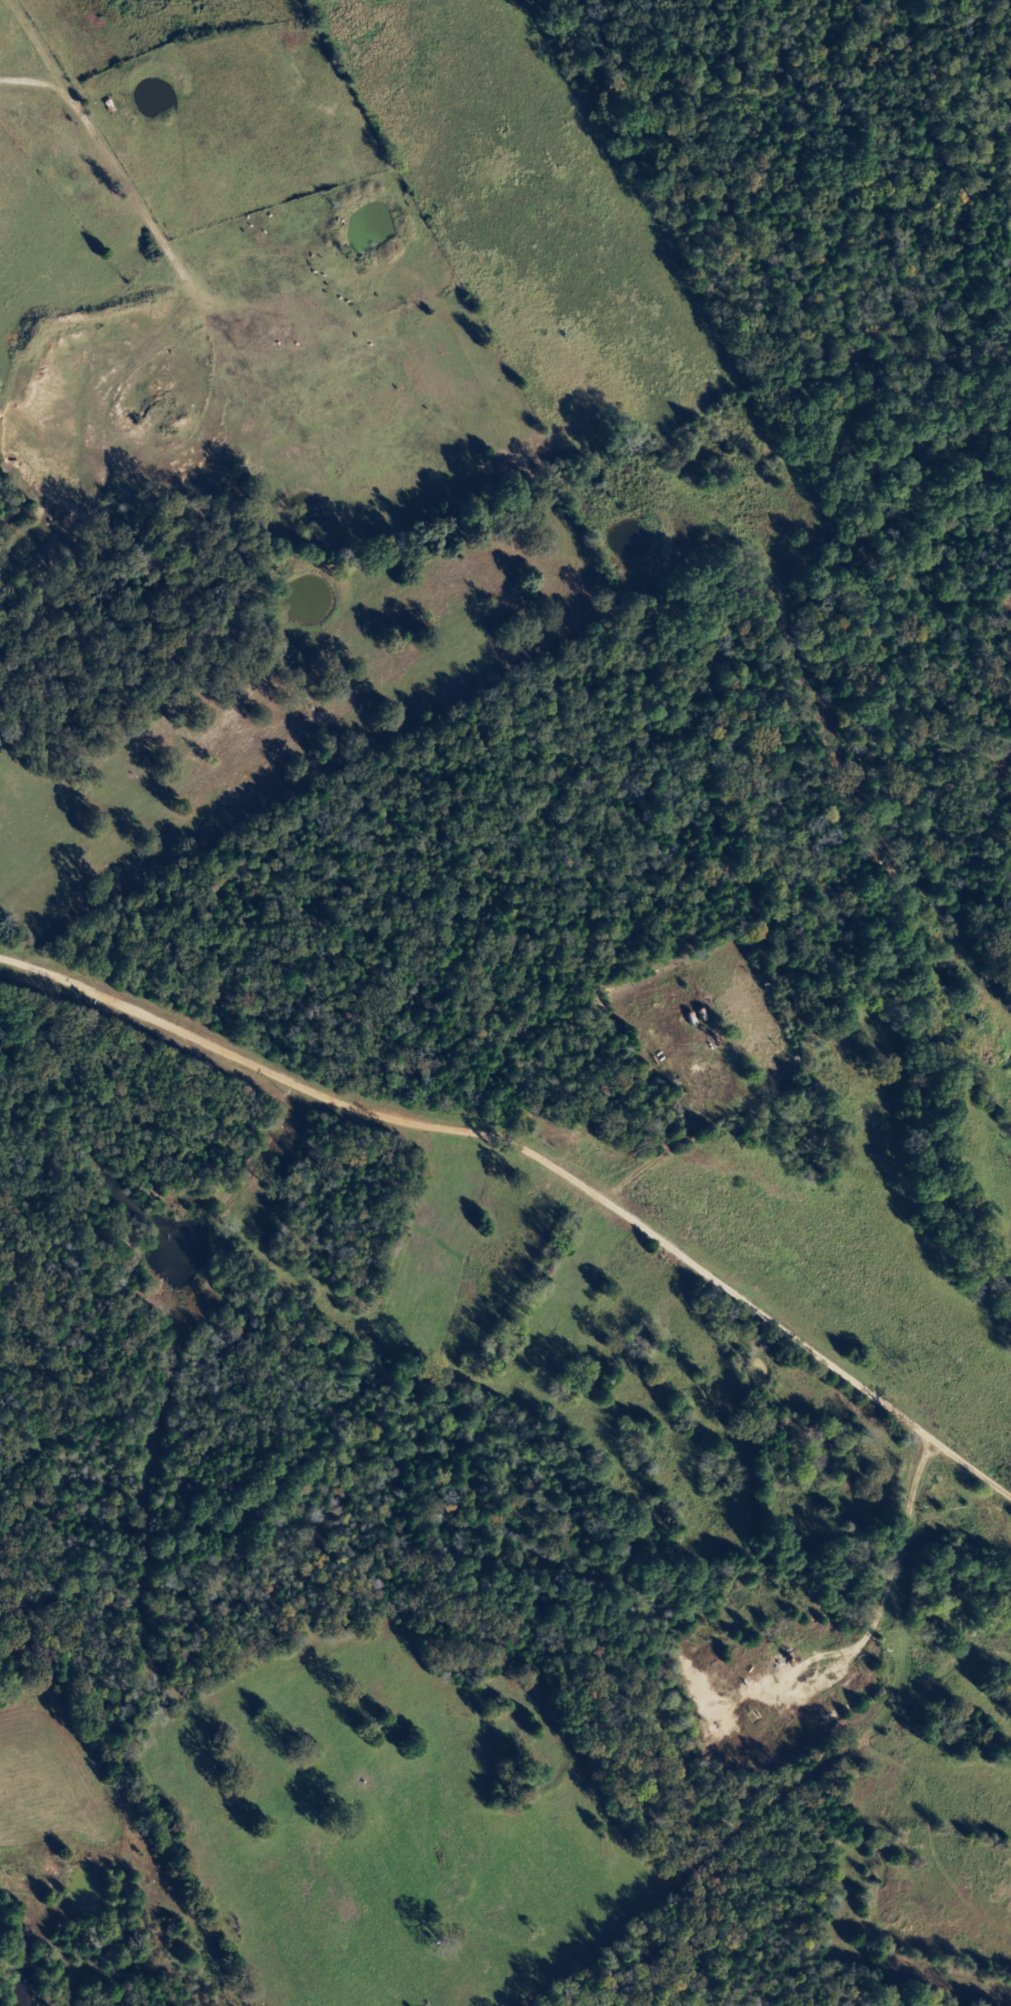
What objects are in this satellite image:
road: (541, 1163)
road: (759, 1795)
road: (151, 1872)

